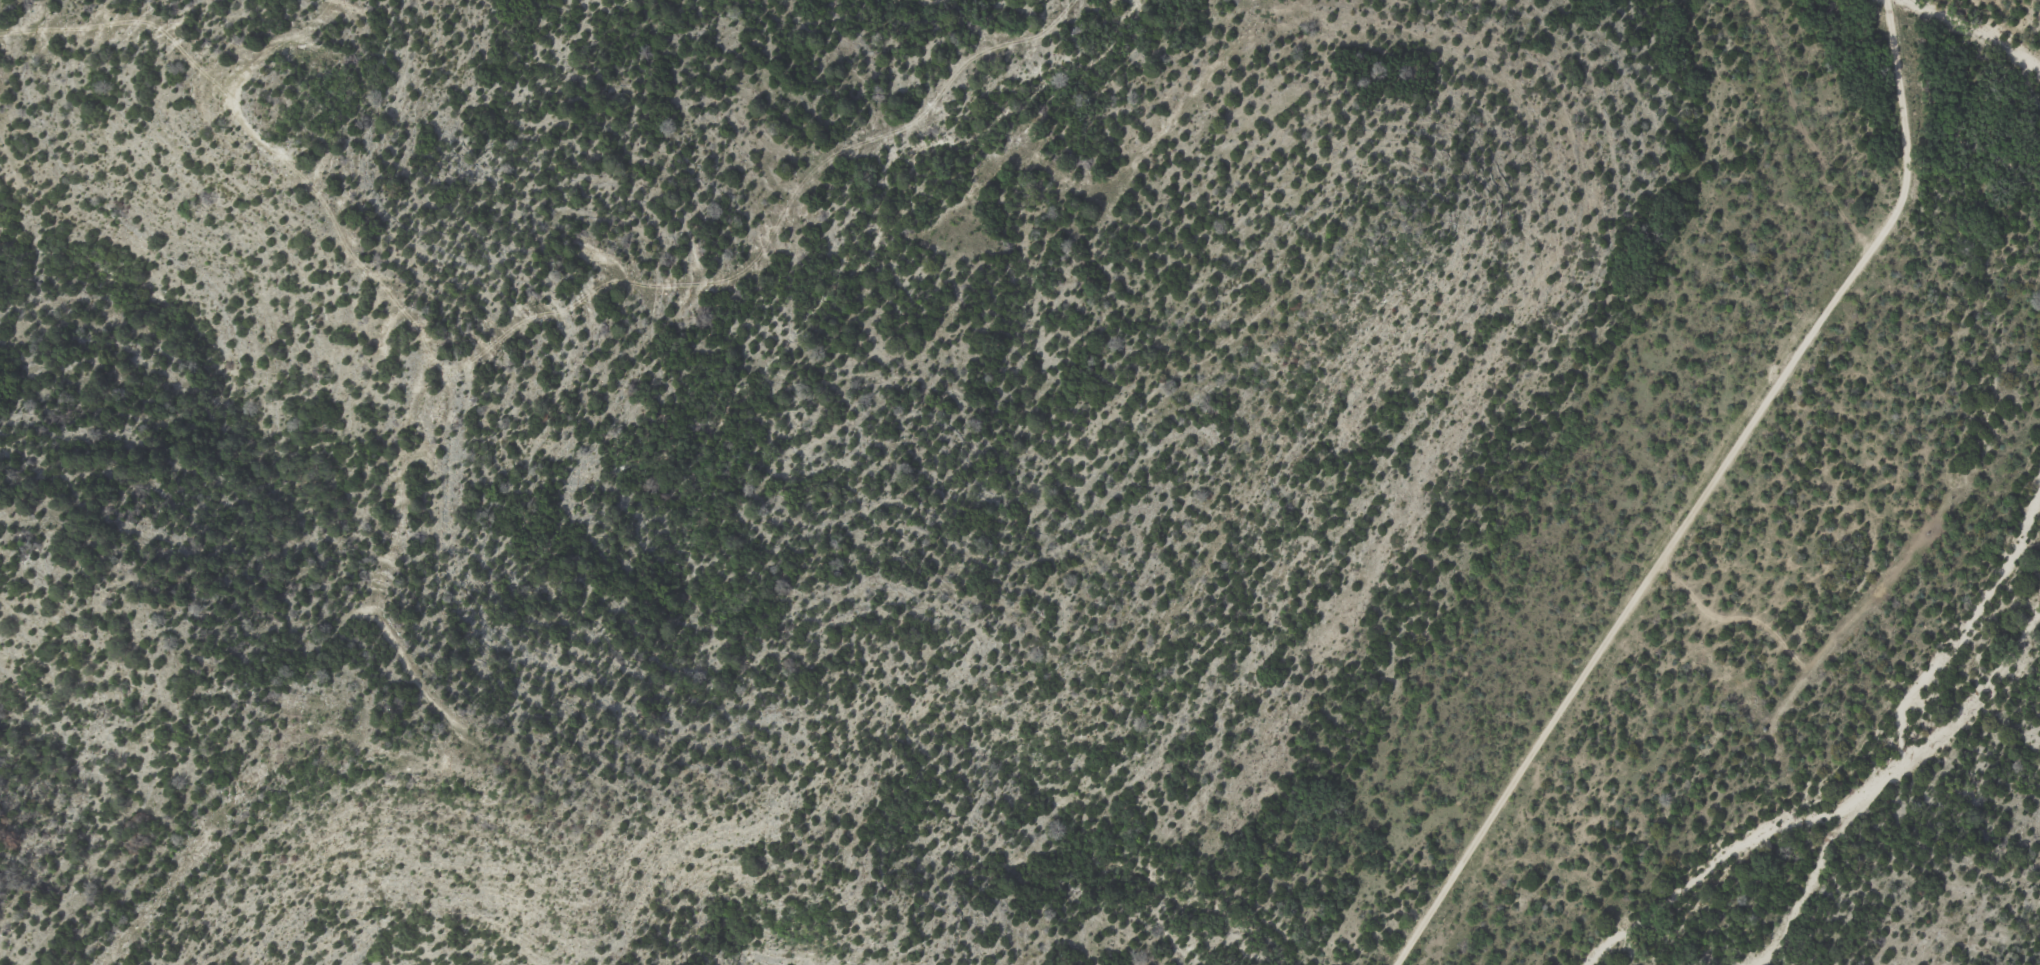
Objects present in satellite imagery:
road: (1696, 493)

